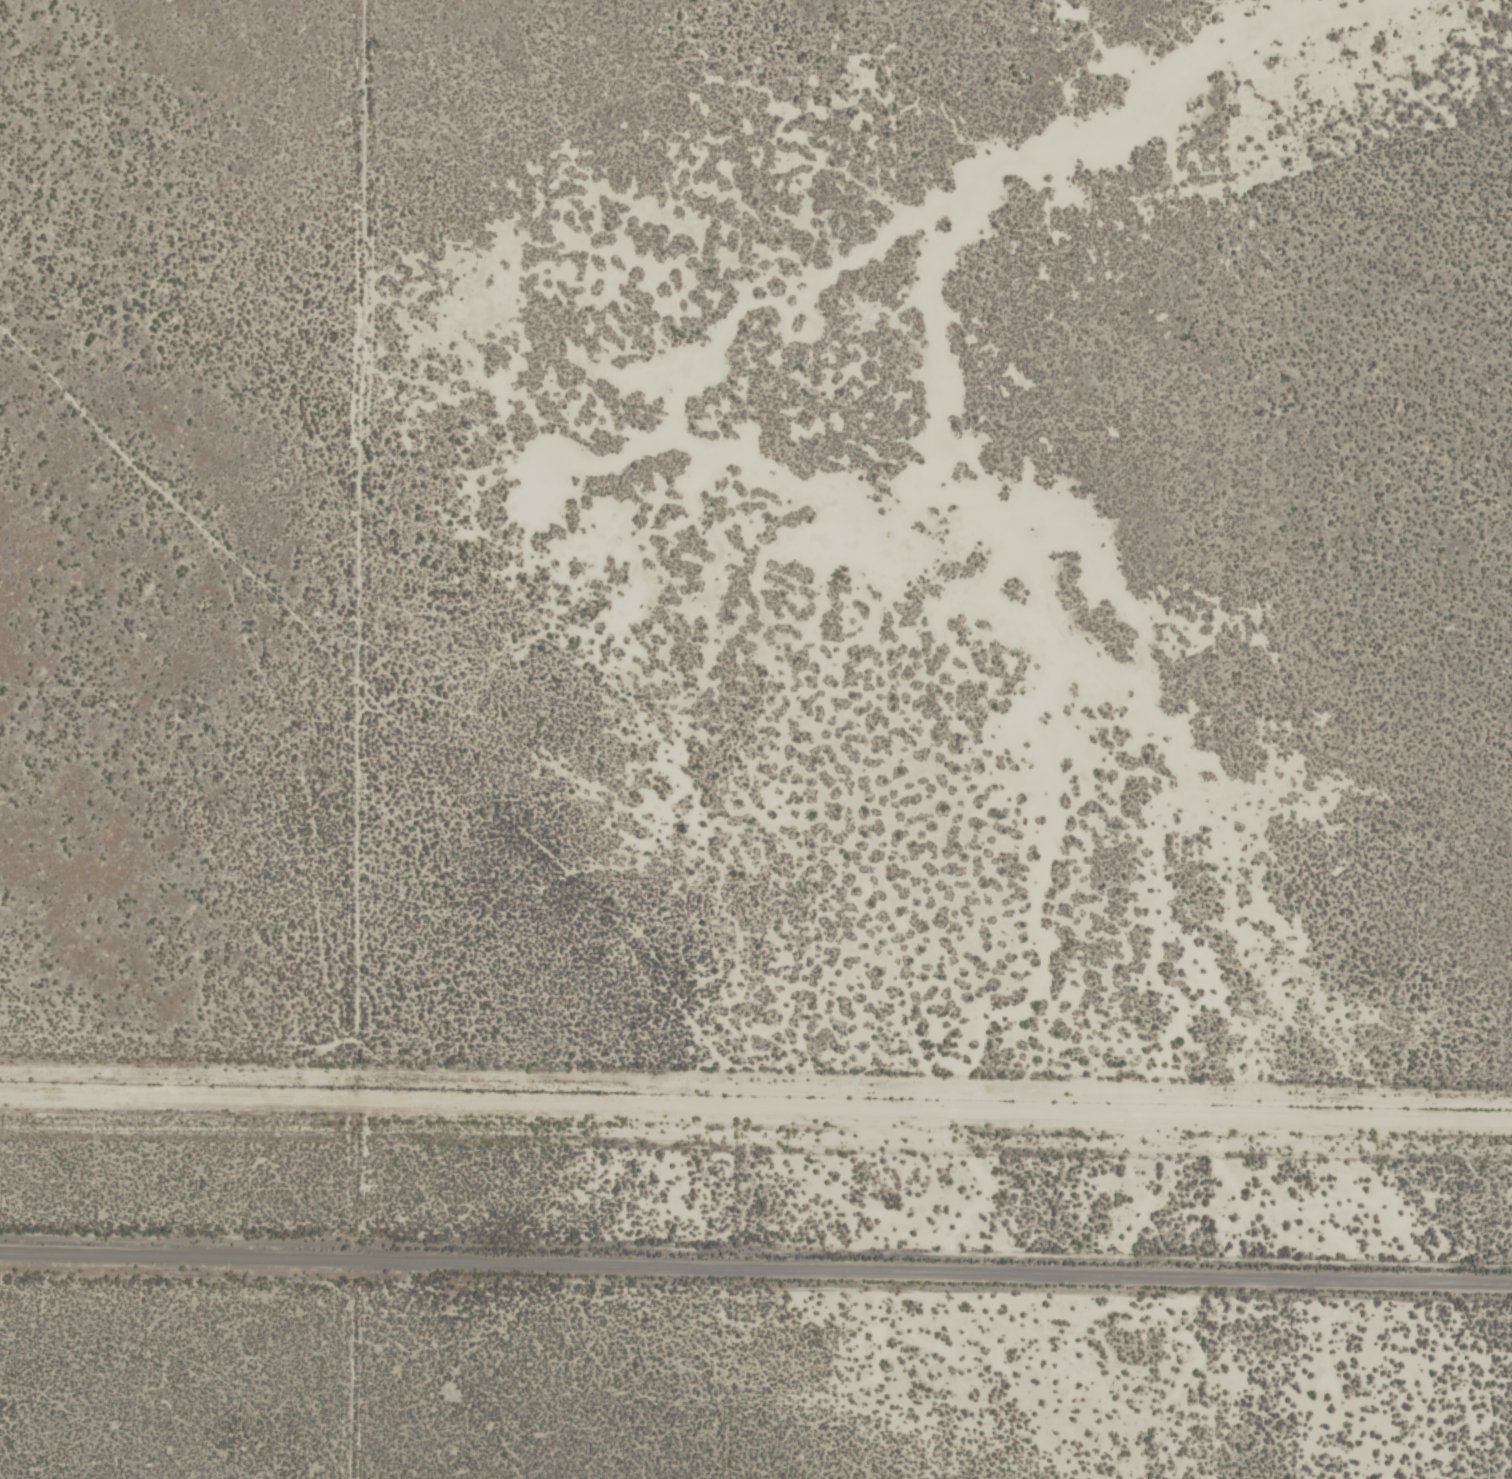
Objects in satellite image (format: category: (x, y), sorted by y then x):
road: (756, 1109)
road: (756, 1255)
airport: (745, 1294)

